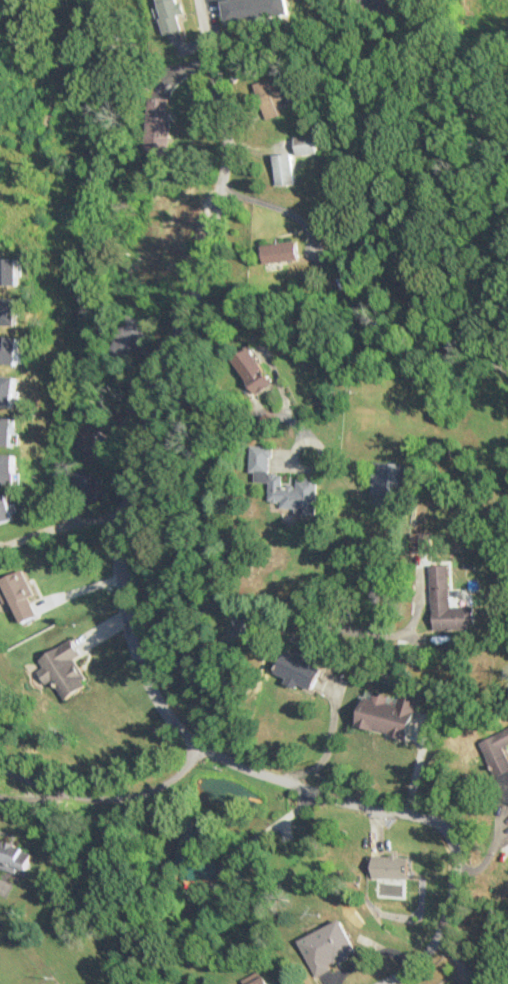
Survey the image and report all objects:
building: (252, 9)
building: (170, 15)
building: (269, 96)
building: (159, 128)
building: (305, 144)
building: (283, 169)
building: (279, 252)
building: (136, 334)
building: (250, 370)
building: (387, 479)
building: (280, 485)
building: (89, 487)
road: (59, 521)
road: (217, 574)
road: (122, 598)
building: (446, 602)
building: (64, 669)
building: (296, 670)
building: (386, 714)
building: (498, 763)
road: (106, 791)
building: (14, 856)
building: (203, 864)
building: (387, 867)
building: (327, 947)
building: (262, 981)

